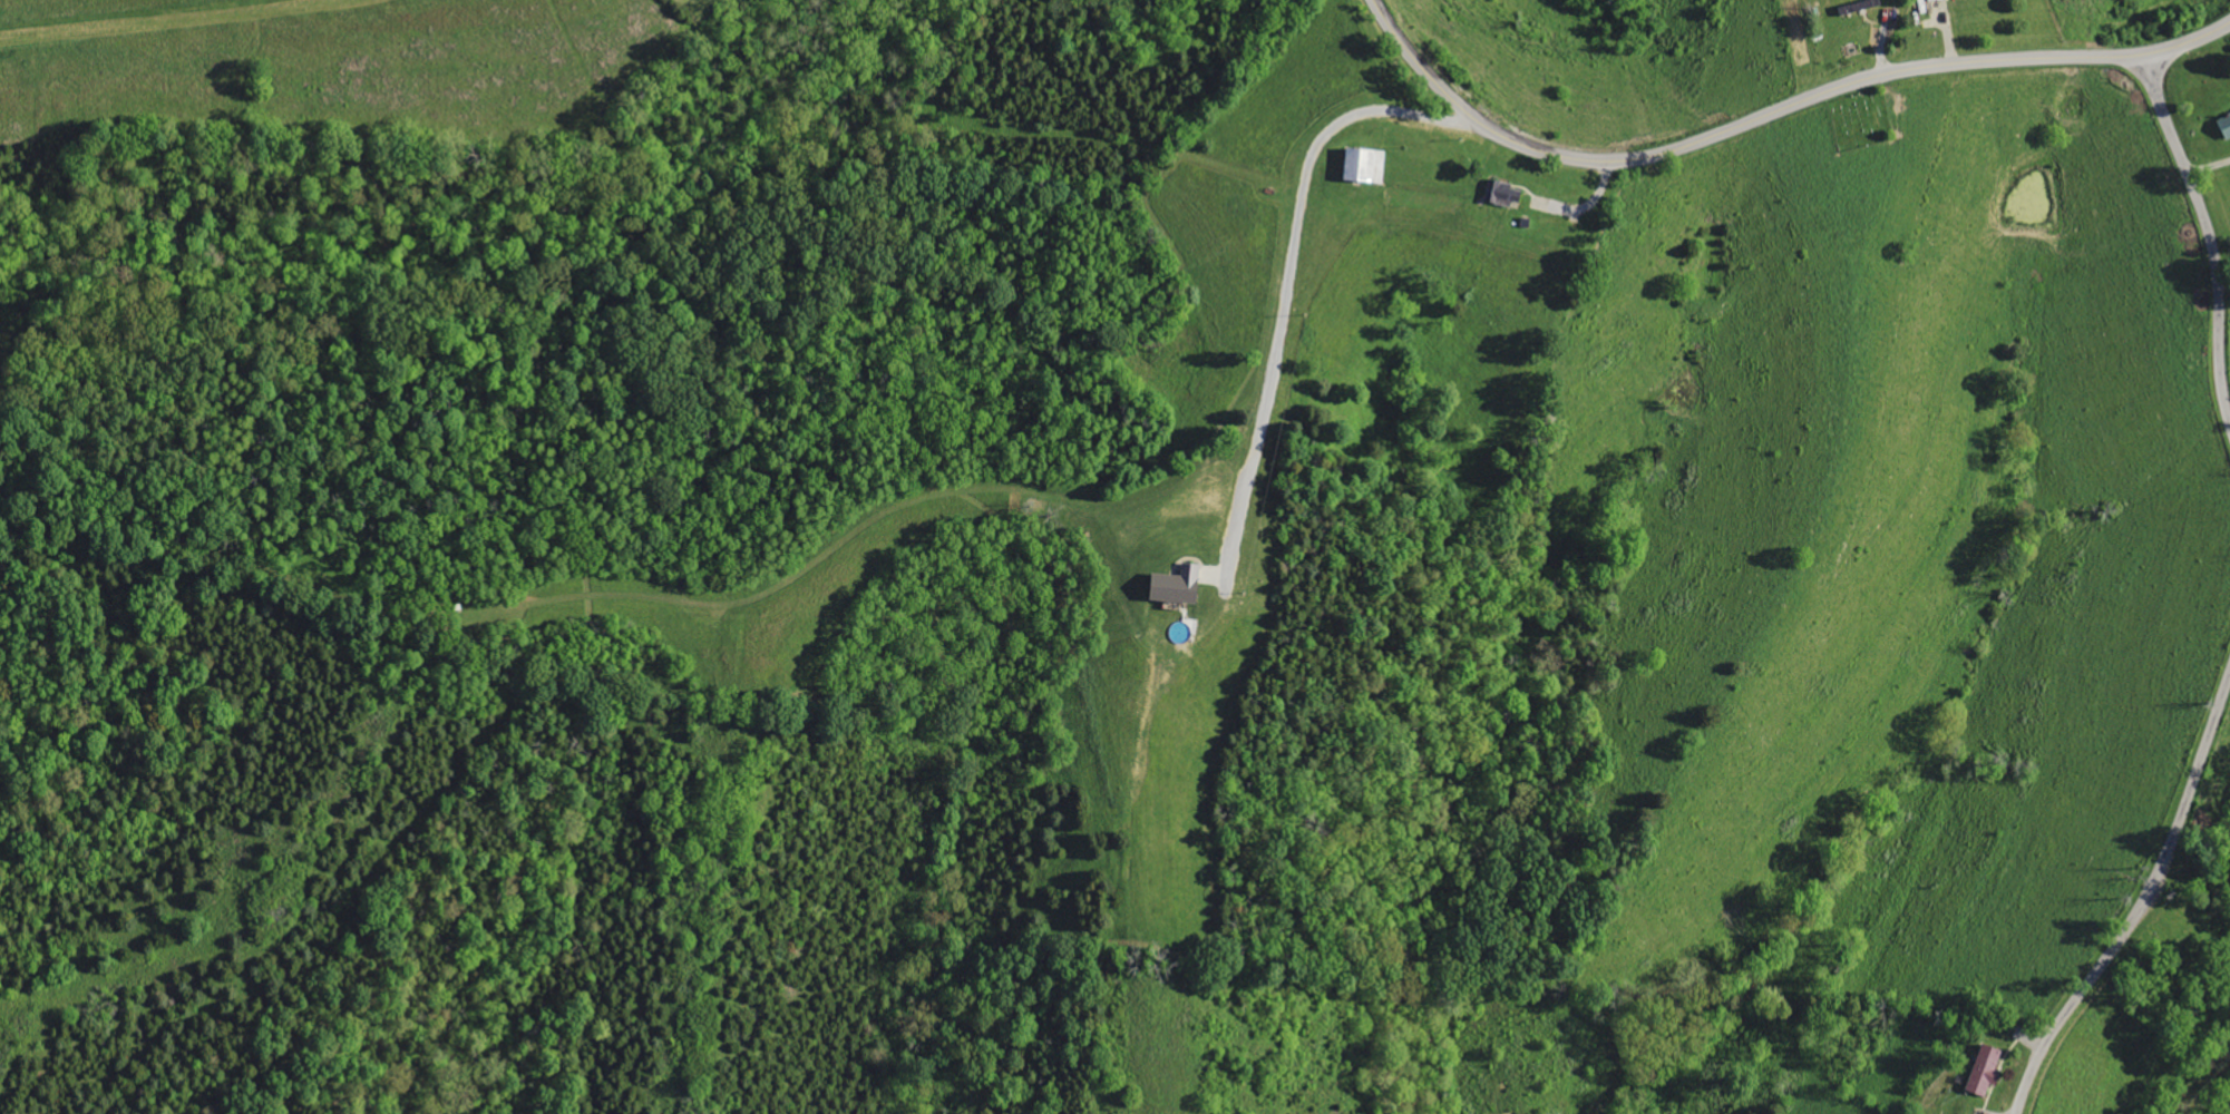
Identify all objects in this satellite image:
building: (1932, 8)
road: (1772, 114)
park: (1860, 120)
building: (1365, 165)
road: (2207, 234)
road: (1289, 270)
building: (1178, 585)
road: (2140, 901)
building: (1985, 1071)

